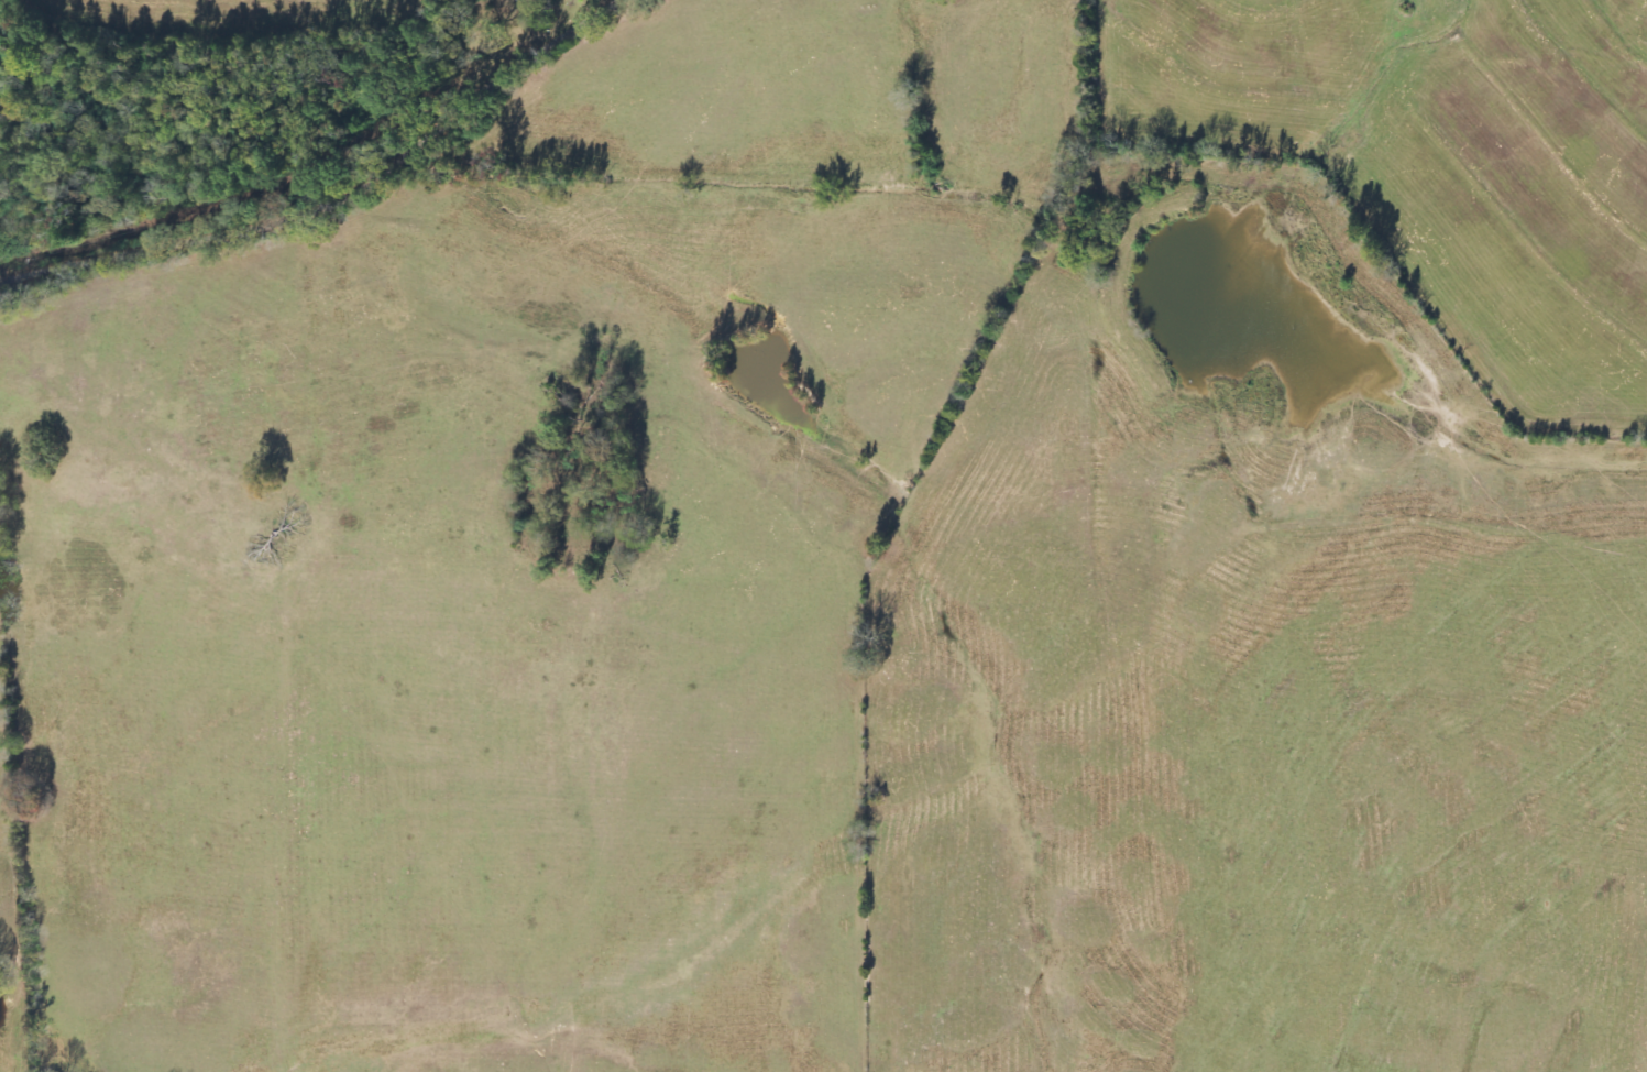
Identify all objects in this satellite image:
road: (339, 204)

